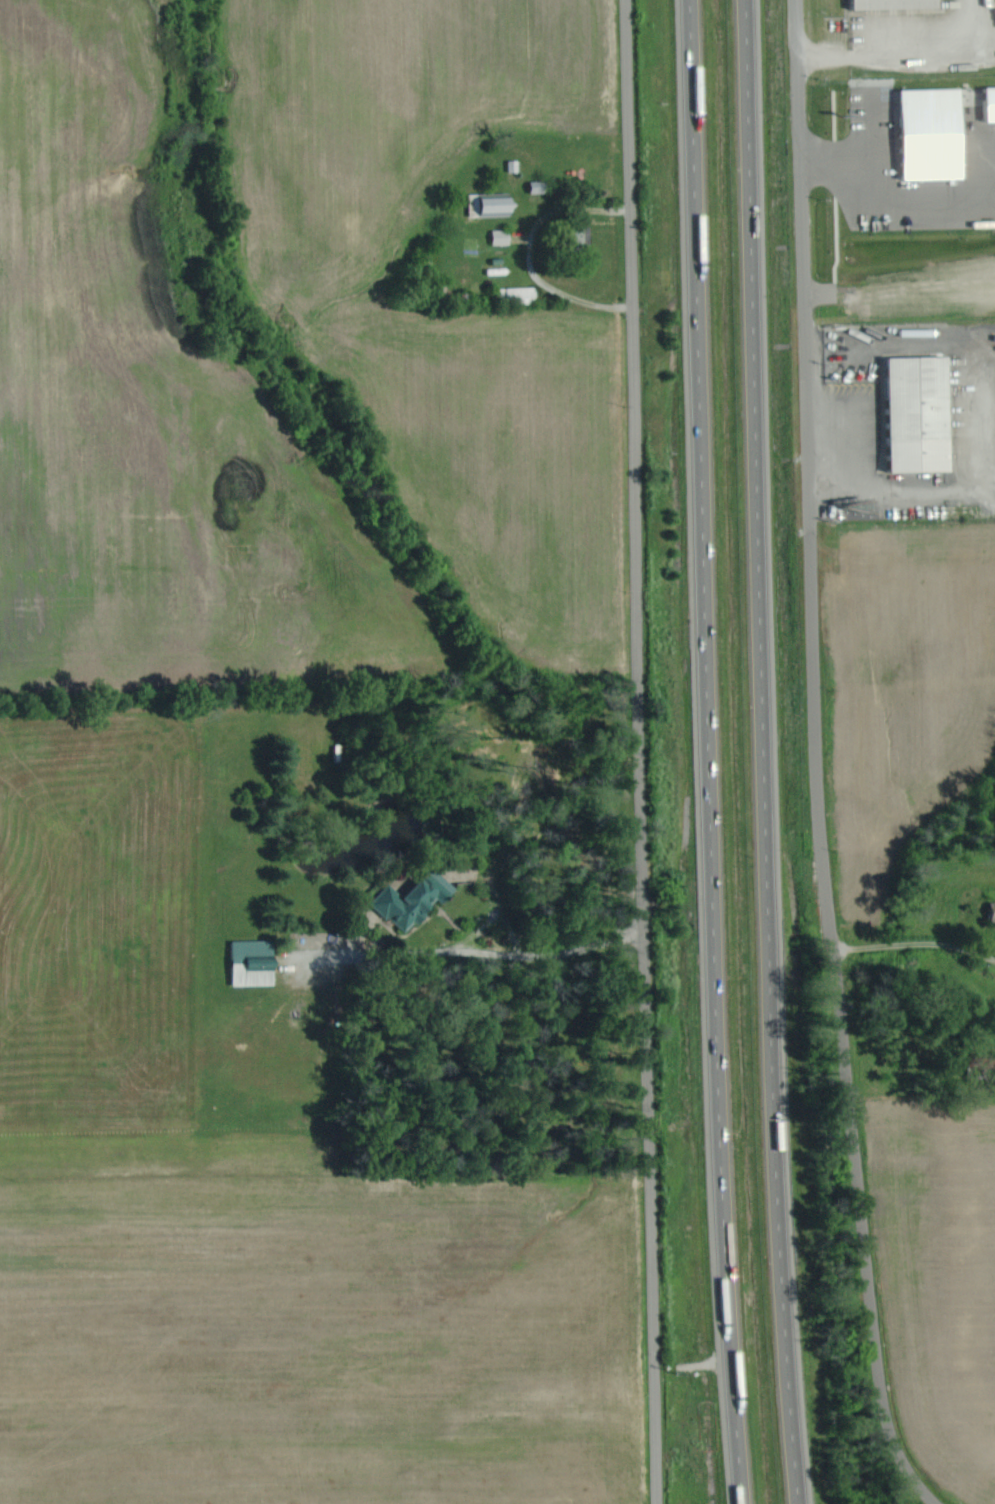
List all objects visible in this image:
building: (898, 4)
building: (992, 104)
building: (935, 134)
building: (541, 186)
building: (583, 235)
building: (504, 236)
building: (524, 294)
road: (563, 300)
building: (923, 412)
road: (809, 473)
road: (642, 752)
road: (710, 752)
road: (765, 752)
building: (416, 899)
building: (993, 911)
road: (915, 950)
road: (545, 953)
building: (256, 961)
road: (862, 1231)

